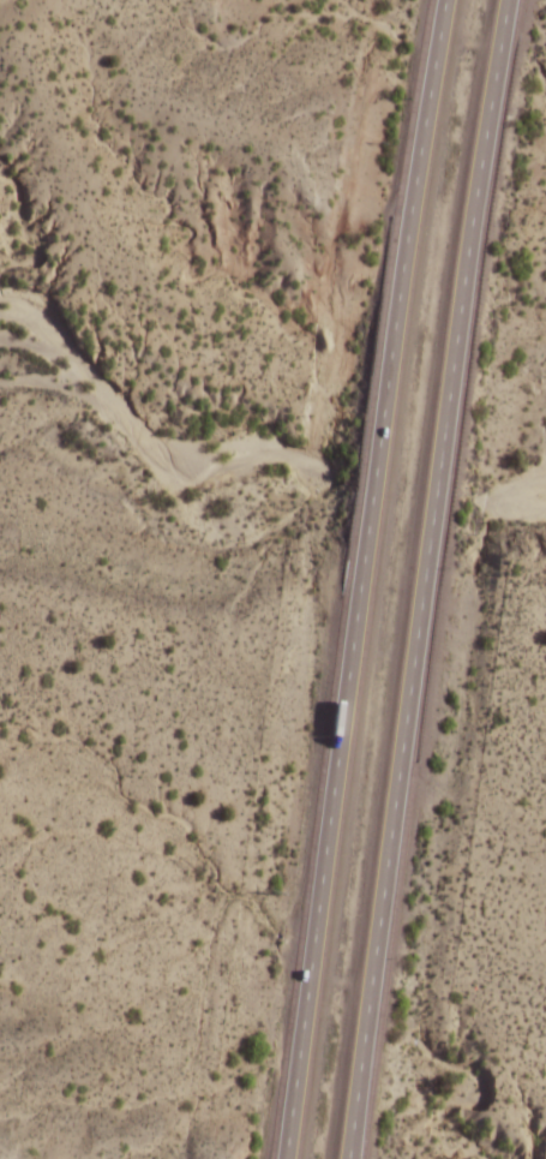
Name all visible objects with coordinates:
river: (40, 346)
river: (56, 384)
river: (149, 453)
river: (408, 490)
river: (509, 491)
river: (527, 495)
road: (360, 578)
road: (422, 578)

